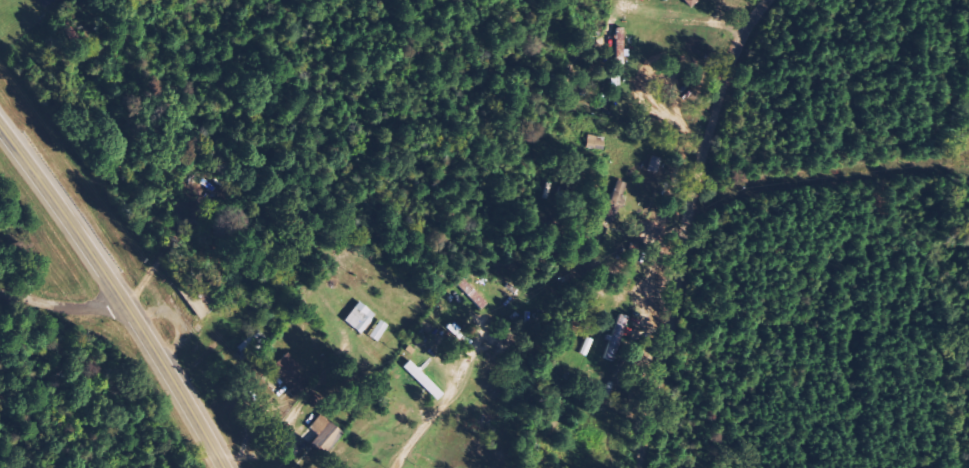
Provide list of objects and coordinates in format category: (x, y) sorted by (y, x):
building: (43, 2)
building: (618, 46)
building: (609, 206)
road: (685, 227)
road: (120, 288)
road: (64, 305)
building: (358, 318)
building: (374, 331)
building: (289, 374)
building: (422, 381)
building: (324, 437)

